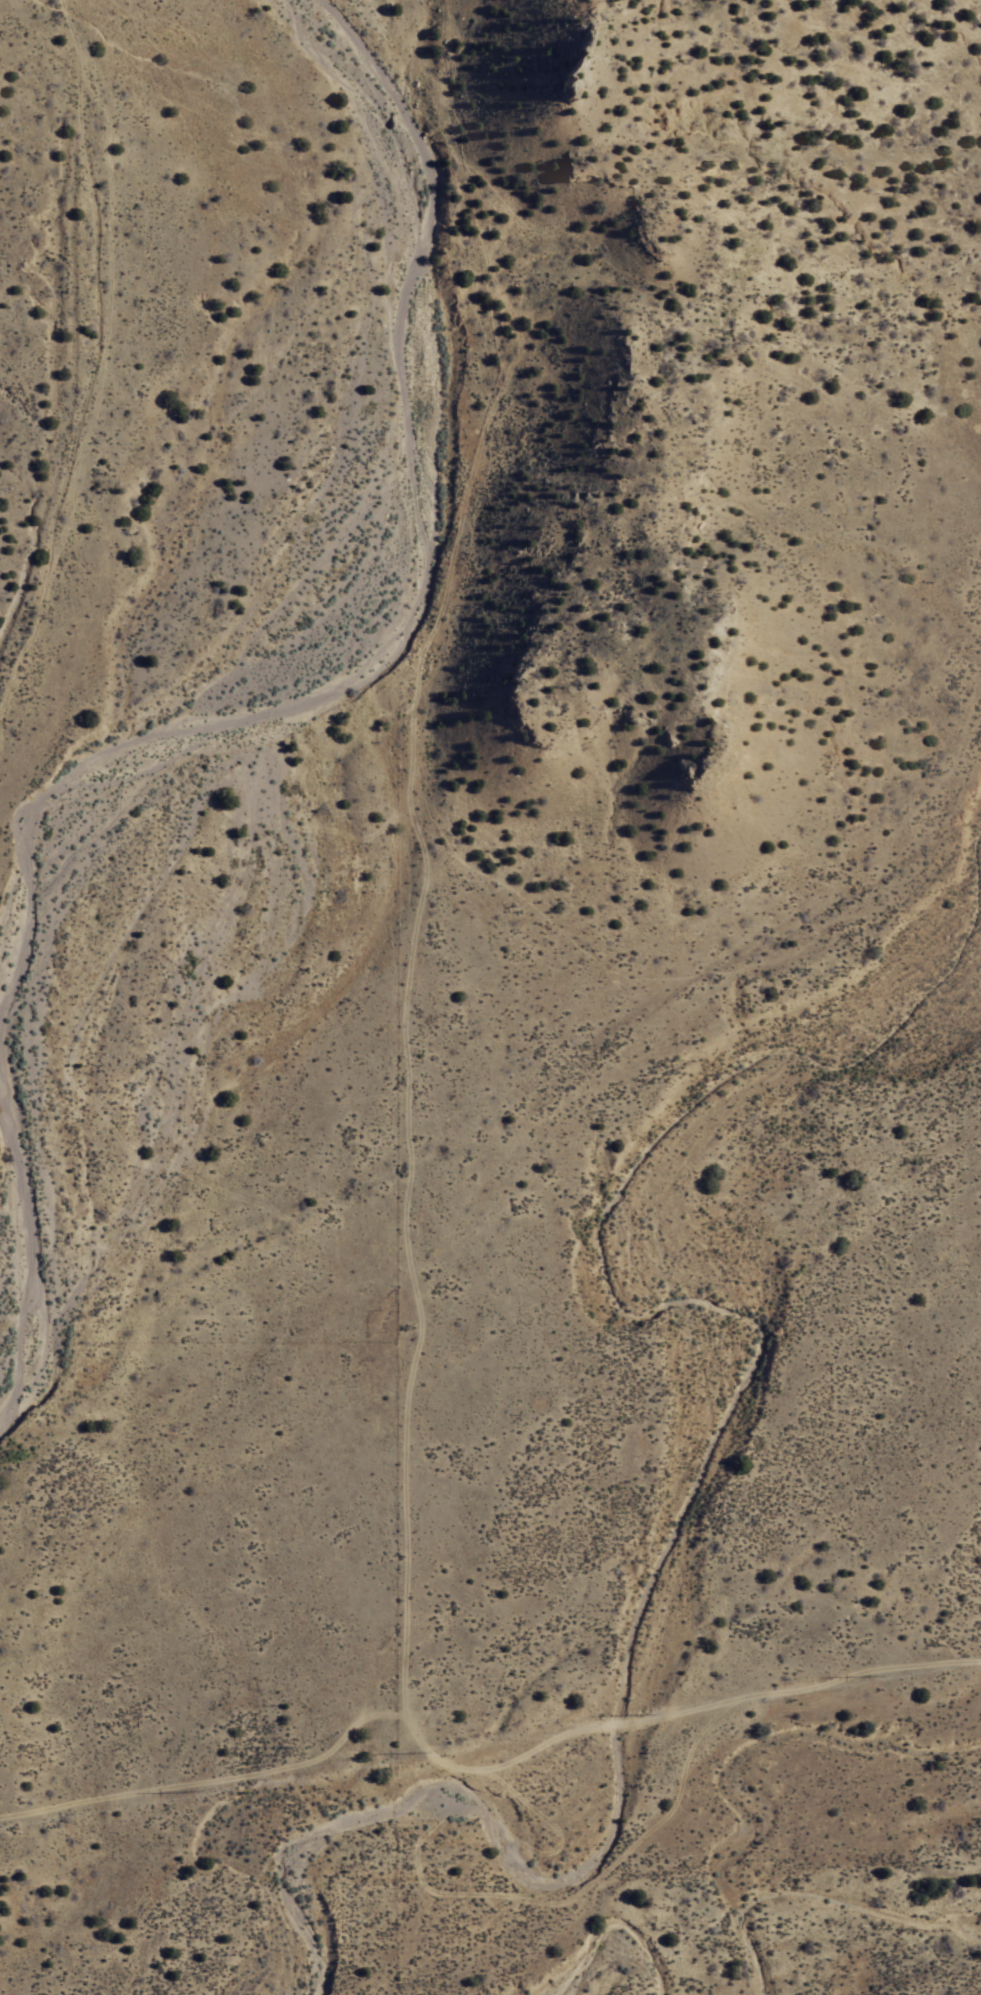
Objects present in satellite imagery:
road: (66, 373)

